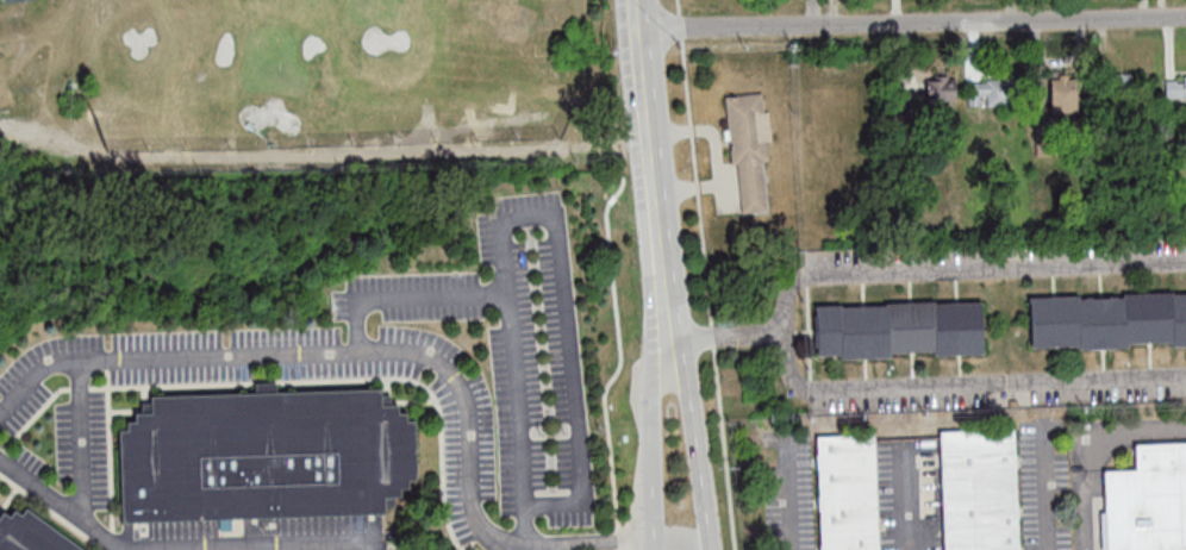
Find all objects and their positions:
park: (8, 0)
road: (635, 13)
road: (911, 20)
park: (295, 80)
building: (1175, 85)
building: (941, 87)
building: (988, 89)
building: (1062, 93)
building: (749, 152)
road: (651, 200)
road: (554, 221)
road: (961, 264)
road: (701, 275)
building: (1106, 318)
building: (899, 327)
road: (720, 333)
road: (408, 351)
road: (170, 356)
road: (963, 383)
road: (82, 438)
road: (1094, 444)
building: (264, 455)
road: (698, 457)
road: (650, 458)
building: (976, 488)
road: (1042, 490)
building: (847, 492)
building: (1147, 499)
road: (788, 500)
road: (62, 504)
road: (906, 506)
road: (525, 526)
building: (31, 533)
road: (601, 538)
road: (680, 538)
road: (254, 543)

